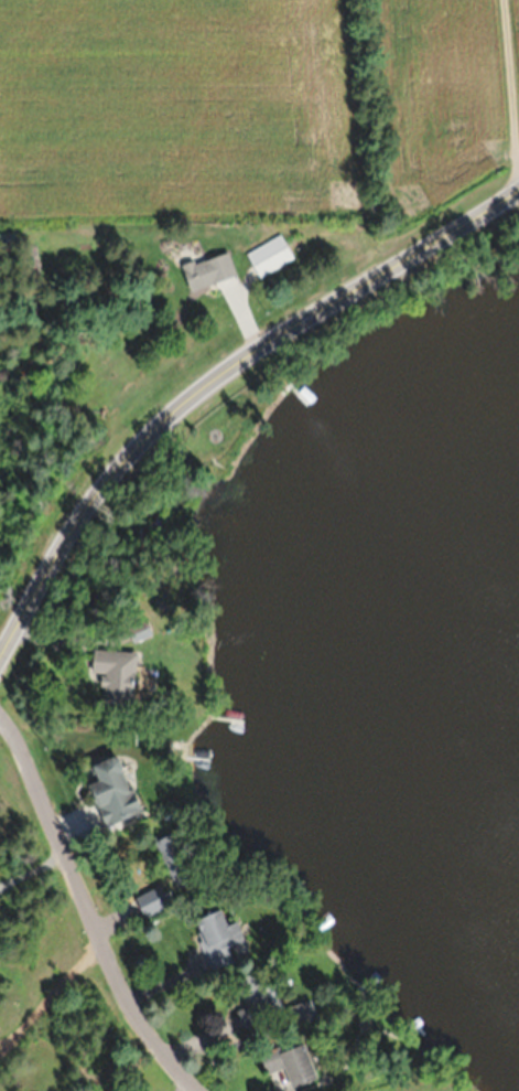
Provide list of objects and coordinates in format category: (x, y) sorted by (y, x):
building: (269, 254)
building: (208, 269)
road: (217, 378)
building: (139, 628)
building: (116, 673)
building: (113, 790)
building: (175, 855)
road: (33, 867)
building: (151, 900)
road: (89, 908)
building: (217, 935)
road: (48, 986)
building: (256, 995)
building: (291, 1062)

